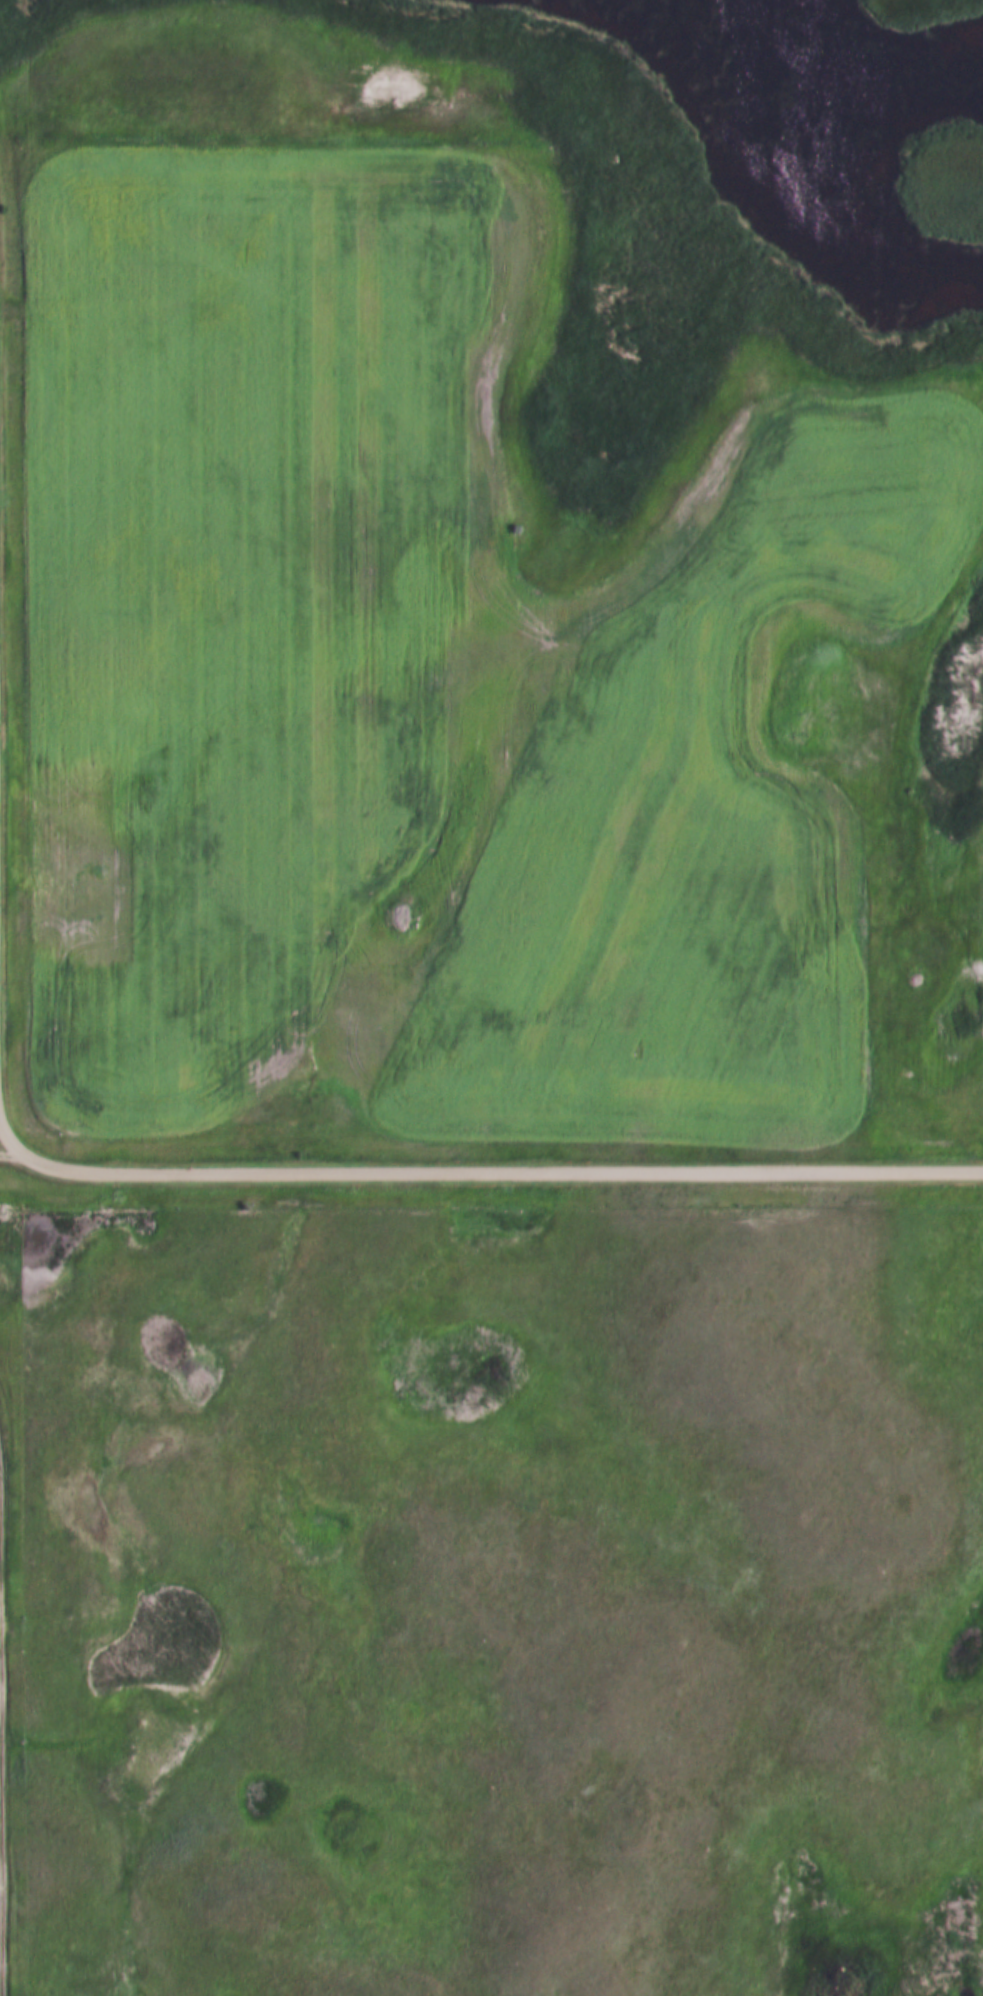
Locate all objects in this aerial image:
road: (14, 1135)
road: (14, 1154)
road: (504, 1171)
road: (4, 1731)

